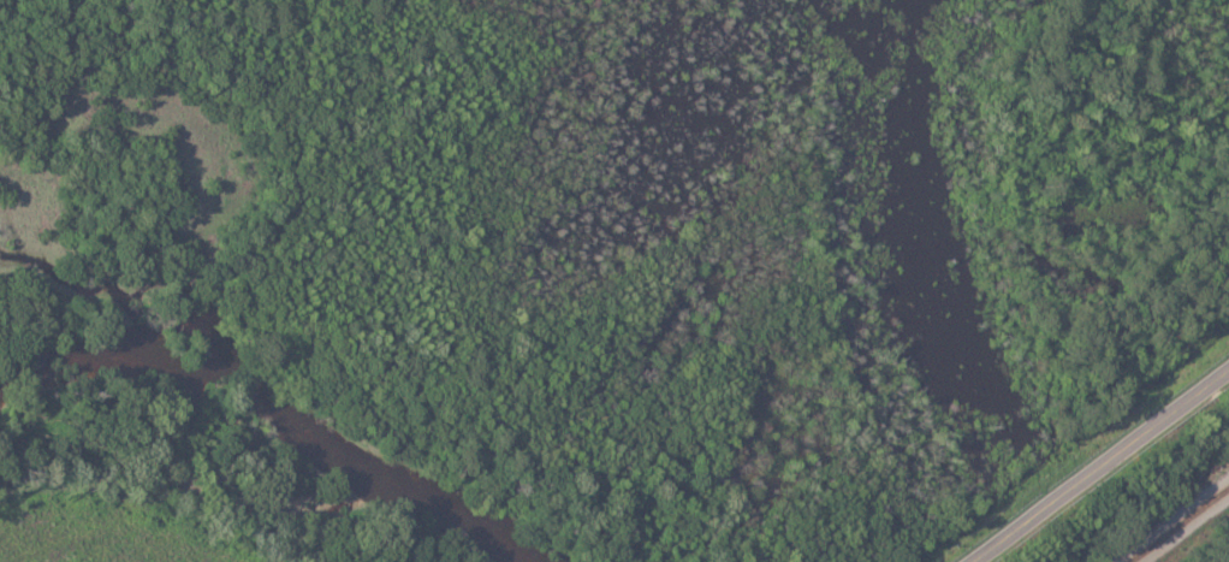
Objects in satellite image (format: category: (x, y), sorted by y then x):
river: (272, 412)
road: (1097, 463)
railway: (1178, 523)

